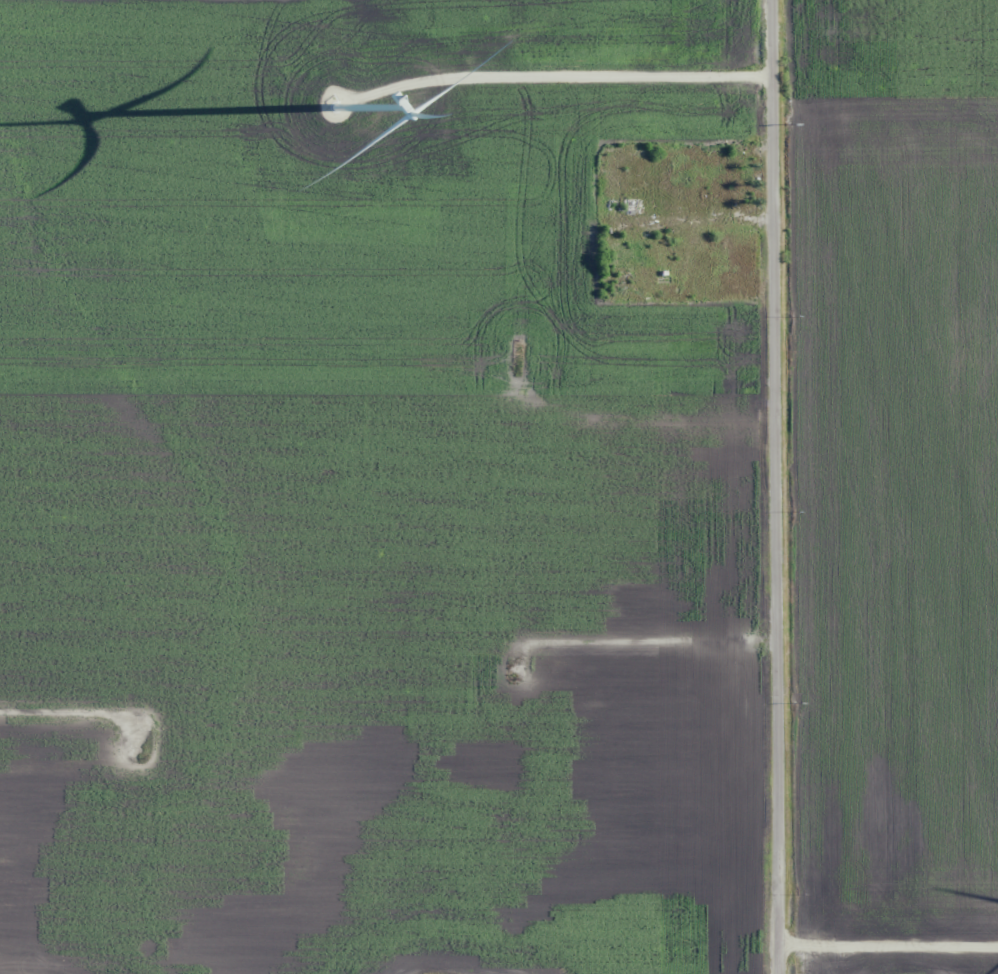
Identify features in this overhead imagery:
wind turbine: (332, 106)
road: (393, 392)
road: (786, 486)
road: (60, 743)

